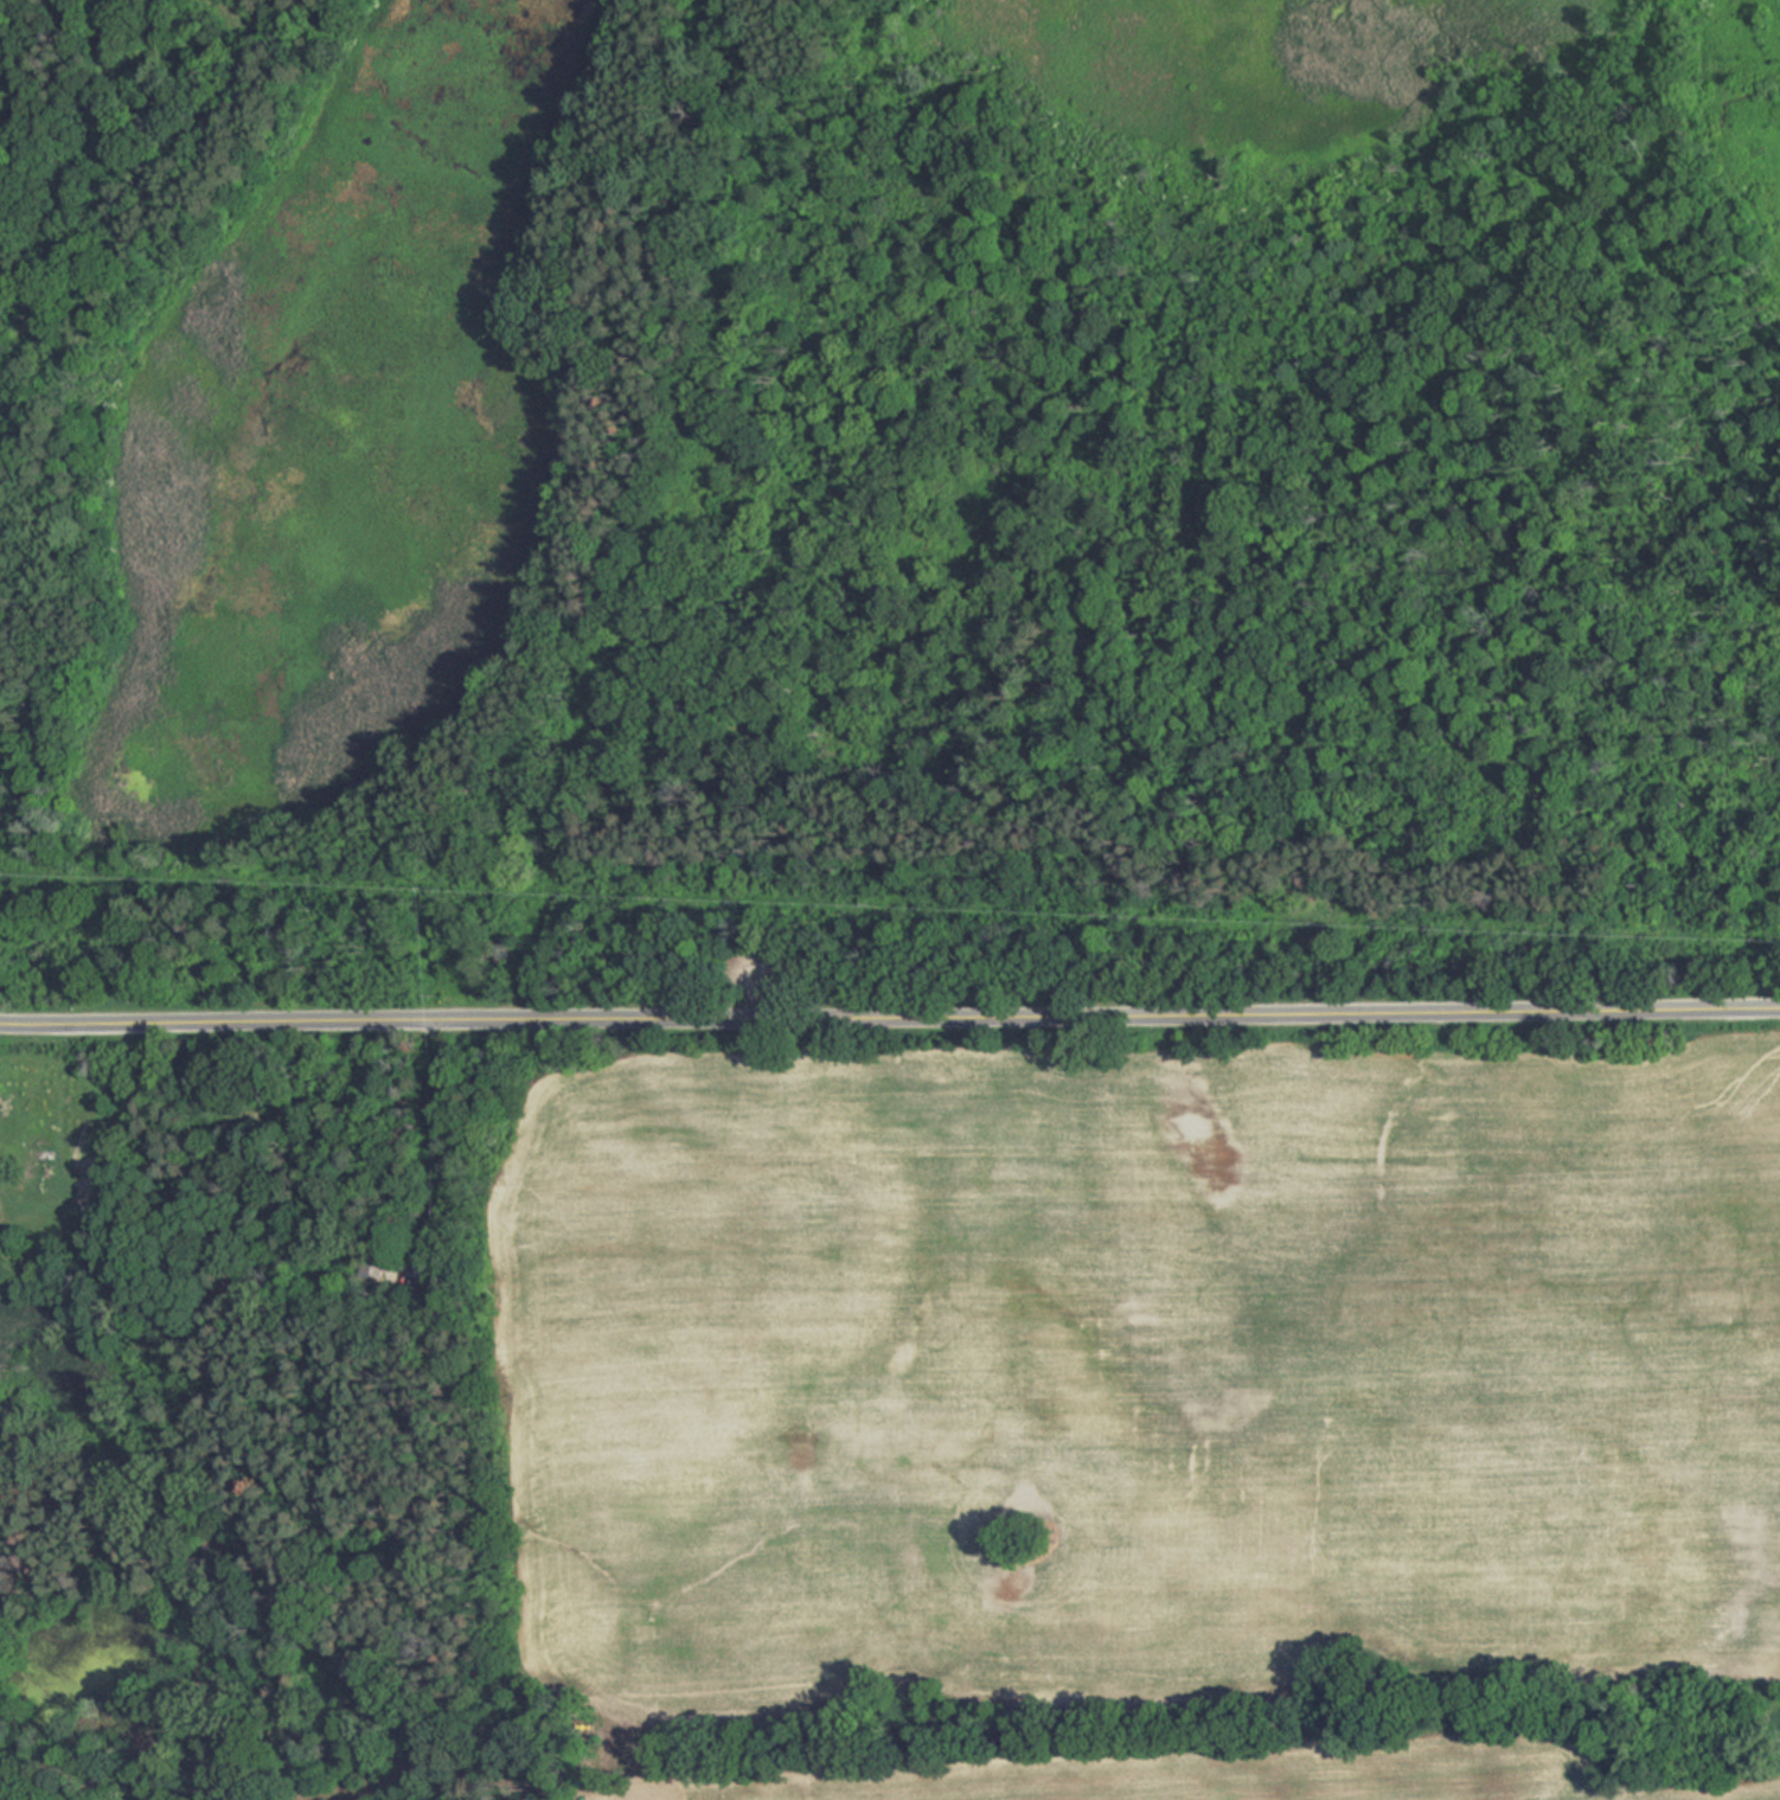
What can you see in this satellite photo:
park: (888, 499)
parking lot: (762, 963)
road: (762, 987)
road: (890, 1017)
road: (436, 1122)
building: (425, 1264)

